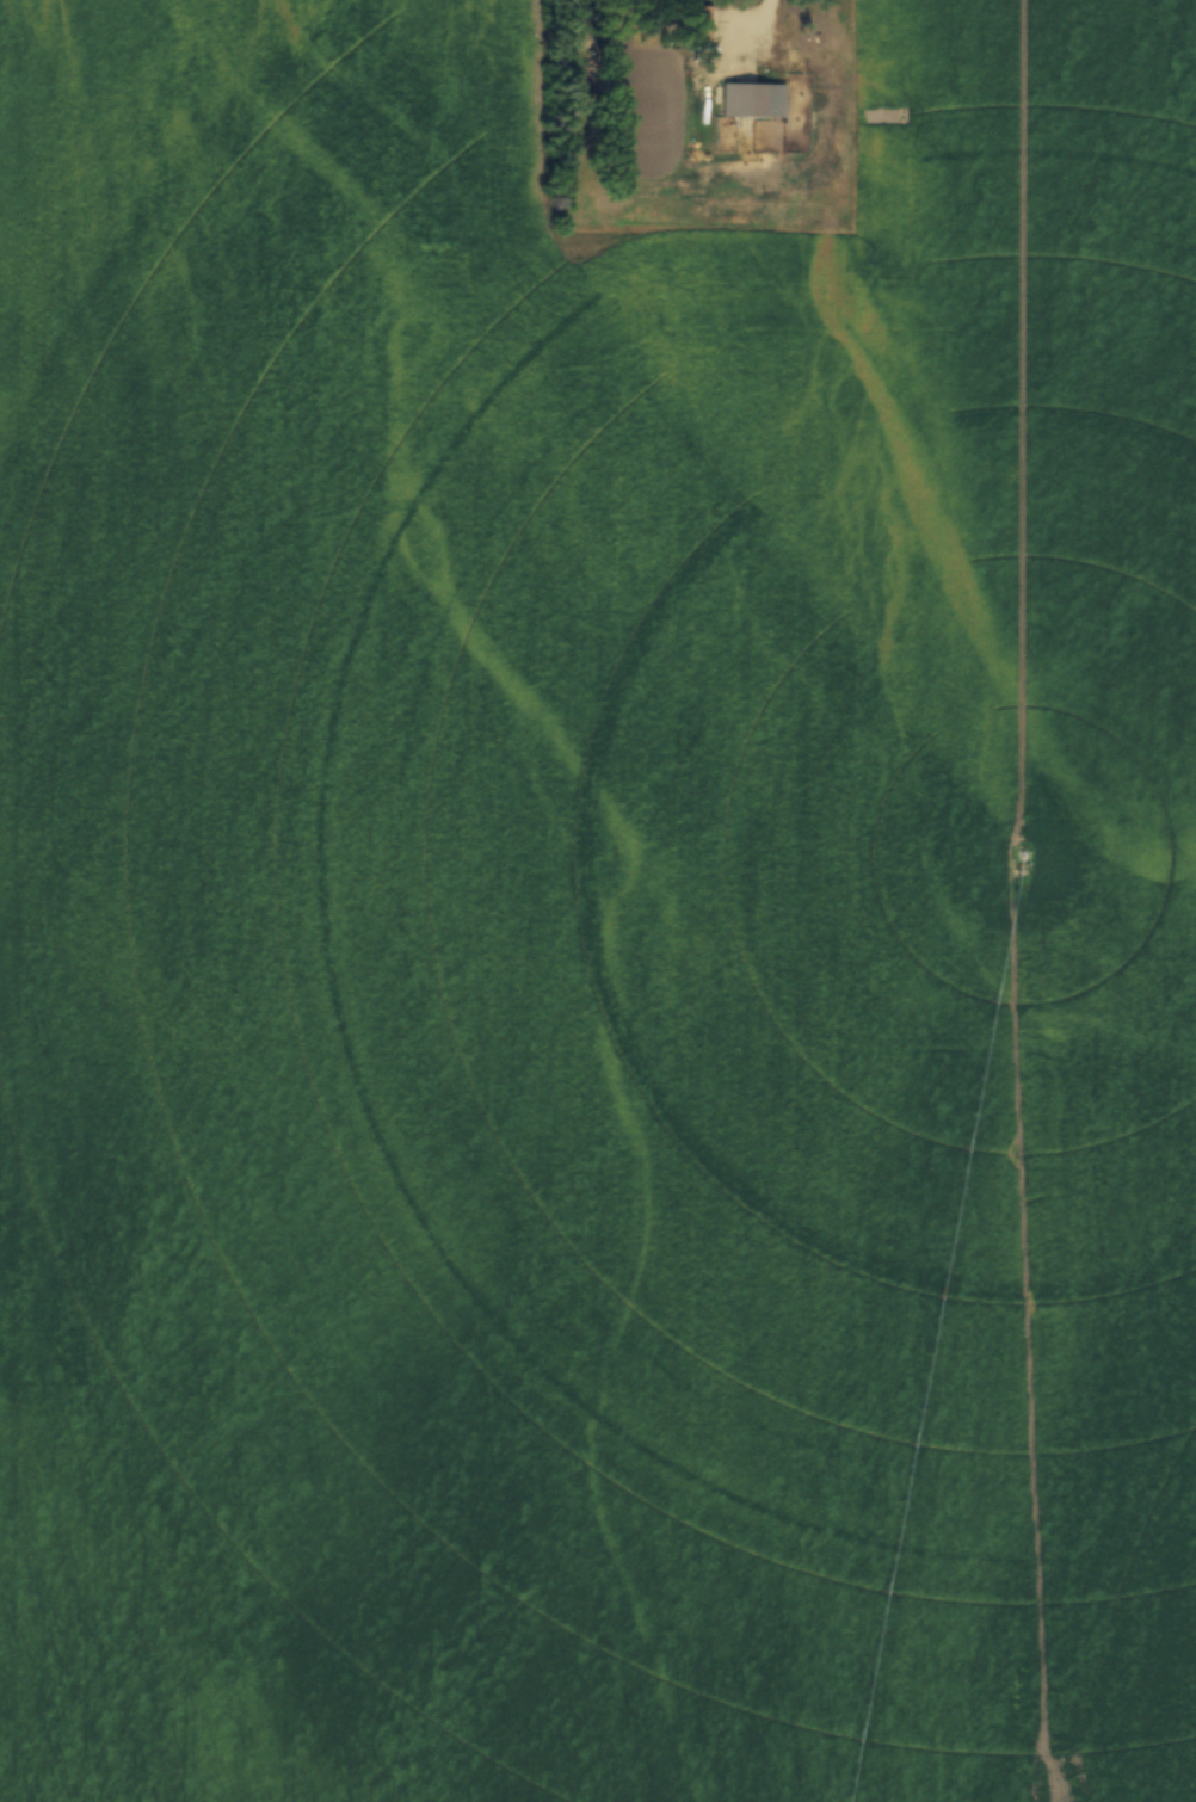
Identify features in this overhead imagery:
road: (770, 10)

